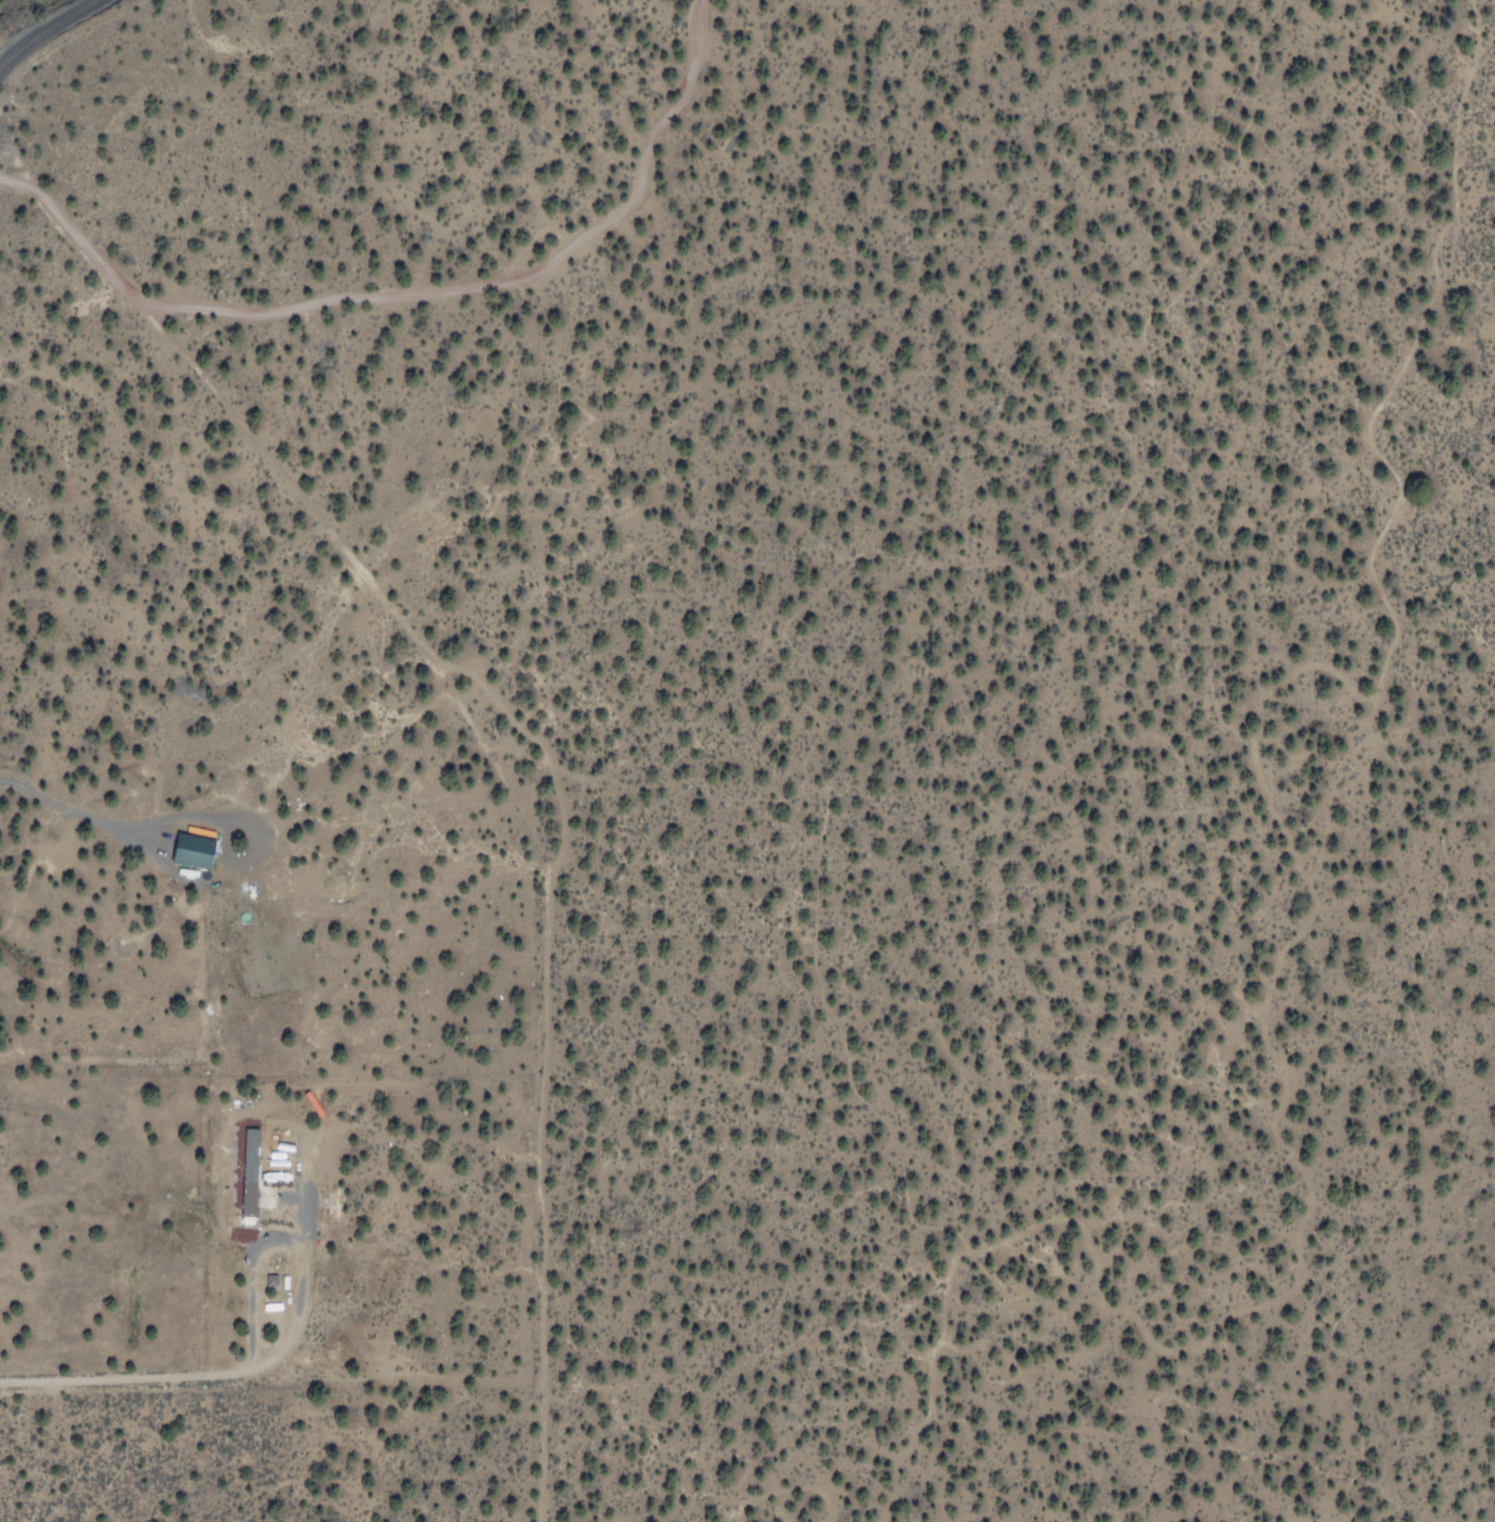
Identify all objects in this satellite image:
road: (48, 33)
road: (416, 324)
building: (195, 849)
road: (477, 877)
building: (259, 1168)

